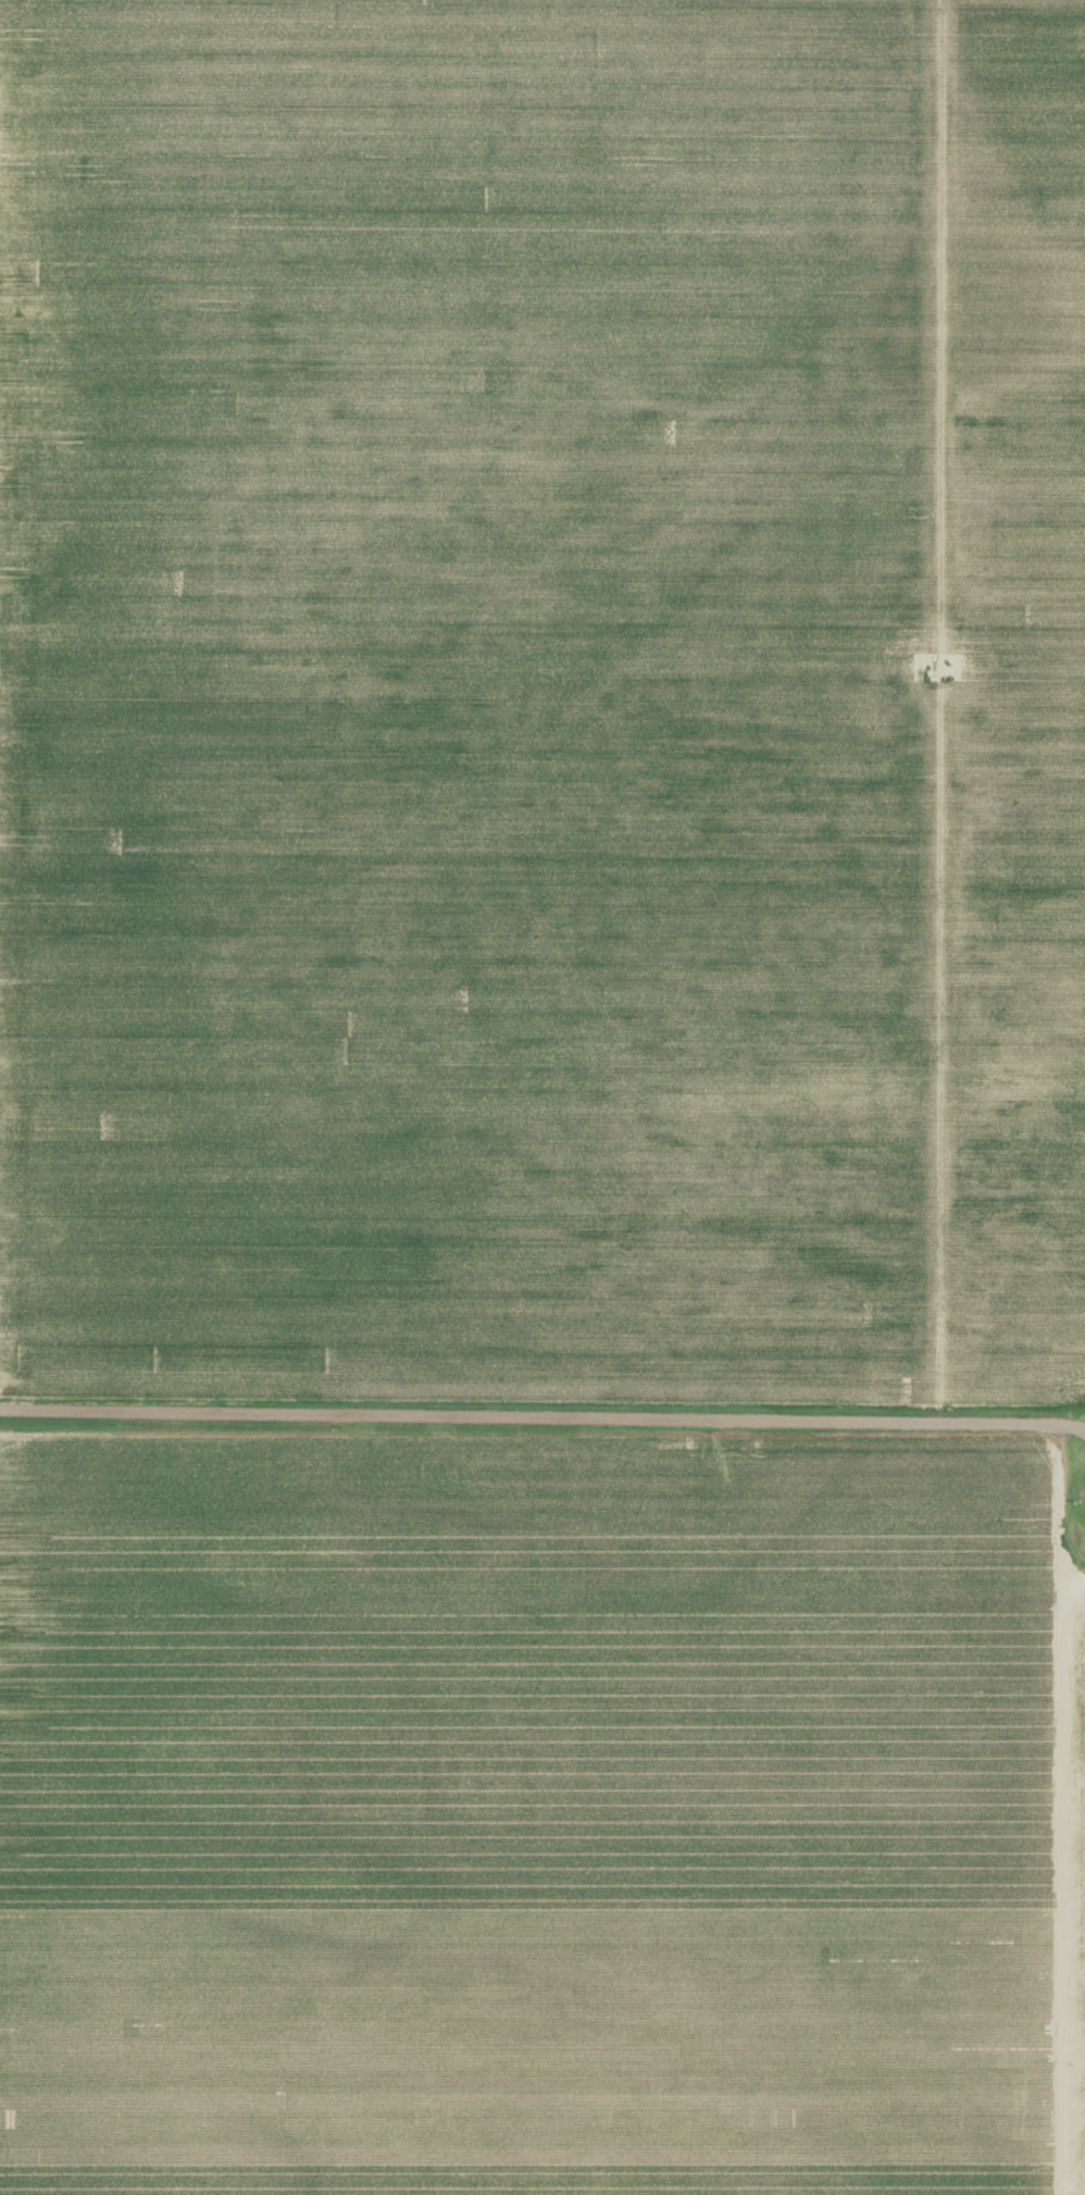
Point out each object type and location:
road: (542, 1414)

